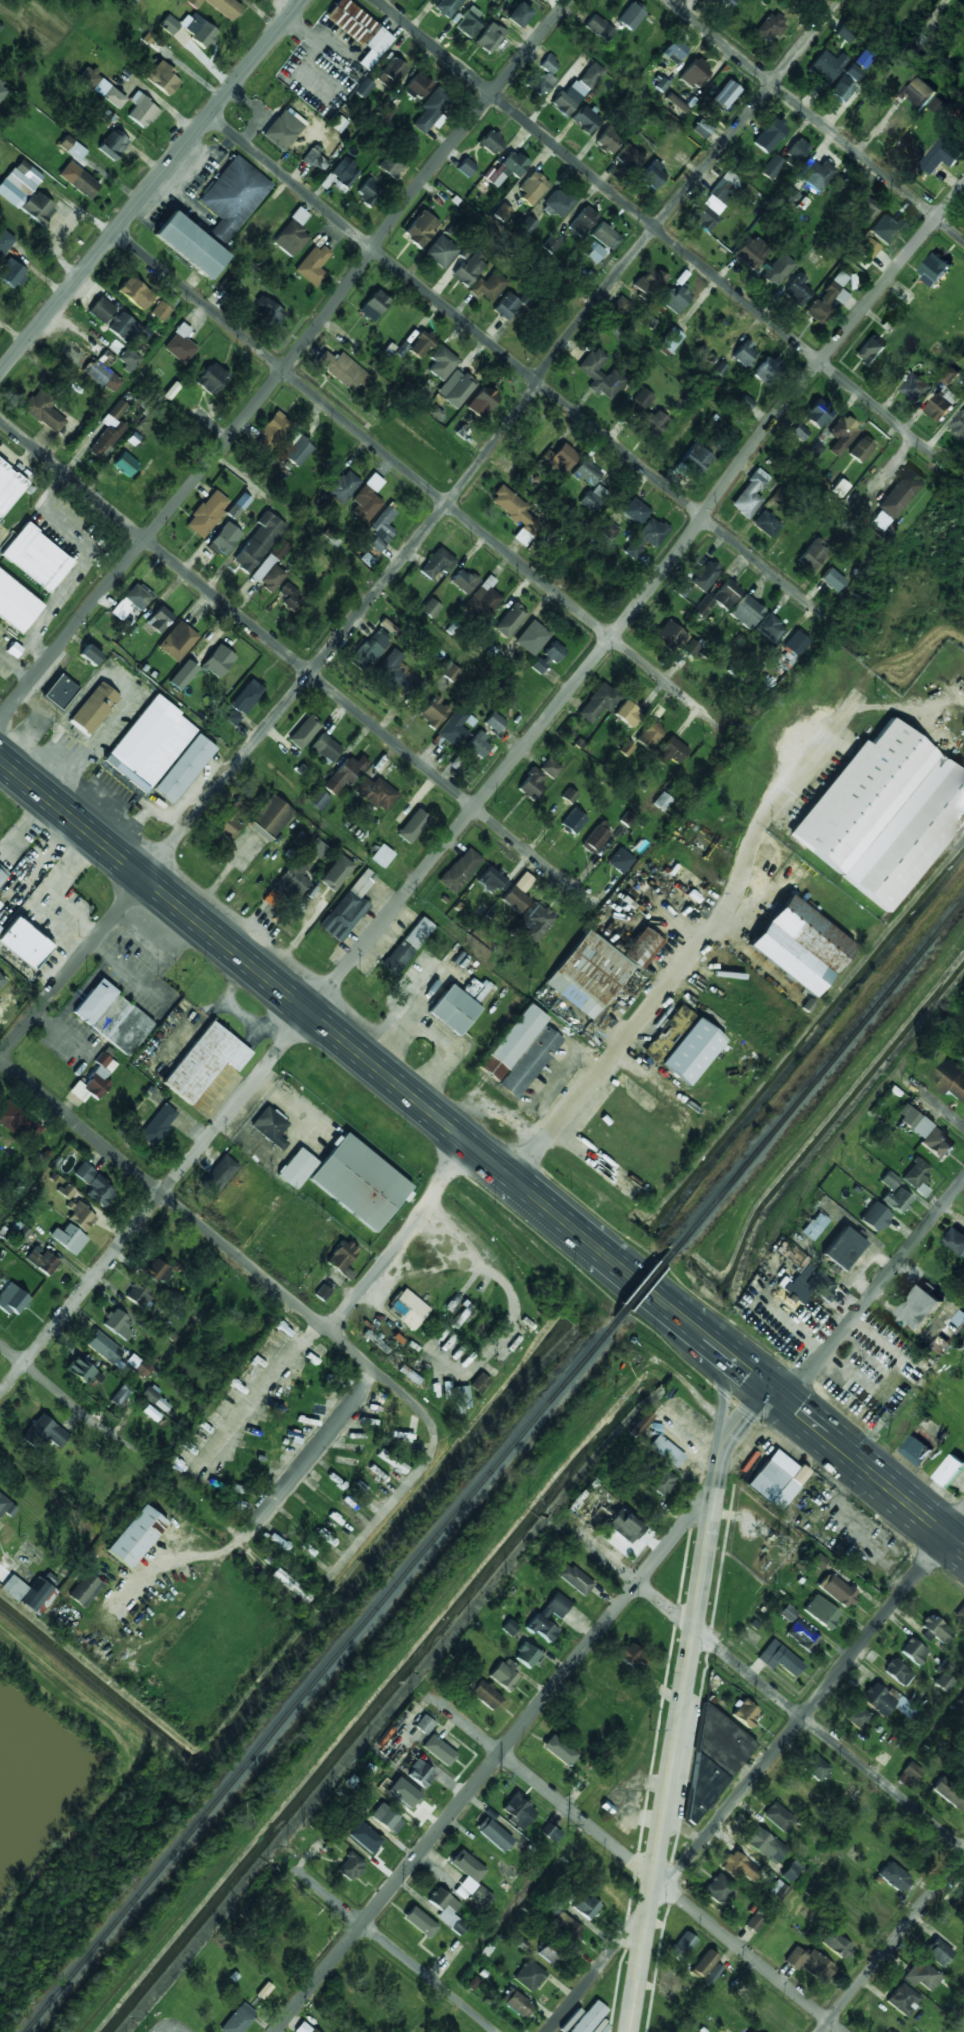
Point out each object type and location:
building: (535, 1)
building: (727, 3)
building: (225, 7)
building: (447, 7)
building: (519, 15)
building: (630, 16)
building: (469, 23)
building: (0, 26)
building: (770, 27)
building: (191, 28)
building: (598, 28)
building: (360, 30)
building: (845, 32)
building: (148, 37)
building: (489, 37)
building: (674, 51)
building: (864, 58)
building: (549, 65)
building: (825, 67)
building: (391, 72)
building: (695, 74)
building: (591, 75)
building: (161, 77)
building: (846, 82)
building: (539, 83)
building: (660, 83)
building: (418, 86)
building: (102, 88)
building: (364, 88)
building: (3, 89)
building: (918, 92)
building: (725, 95)
building: (568, 98)
building: (675, 103)
building: (938, 104)
building: (142, 110)
building: (430, 111)
building: (386, 112)
building: (585, 119)
road: (816, 120)
building: (701, 129)
building: (282, 130)
building: (769, 135)
building: (609, 140)
building: (490, 142)
building: (113, 145)
building: (76, 151)
building: (796, 153)
building: (942, 155)
building: (630, 157)
building: (315, 158)
building: (391, 165)
building: (466, 167)
building: (772, 167)
building: (507, 168)
building: (650, 173)
building: (817, 175)
building: (78, 180)
building: (19, 183)
road: (151, 186)
building: (532, 187)
building: (368, 192)
building: (788, 196)
building: (233, 198)
building: (715, 200)
building: (558, 203)
building: (38, 207)
building: (866, 209)
building: (503, 213)
building: (583, 221)
building: (528, 226)
building: (886, 227)
building: (420, 229)
road: (661, 232)
building: (293, 234)
building: (605, 236)
building: (5, 241)
building: (191, 245)
building: (867, 249)
building: (441, 252)
building: (750, 252)
building: (314, 265)
building: (934, 269)
building: (778, 270)
building: (469, 271)
building: (12, 274)
building: (648, 282)
building: (489, 286)
building: (797, 290)
building: (136, 293)
building: (675, 299)
building: (374, 305)
building: (506, 306)
building: (620, 306)
building: (101, 310)
building: (161, 311)
building: (268, 311)
building: (123, 327)
building: (670, 339)
building: (180, 345)
building: (421, 345)
building: (614, 346)
building: (95, 348)
building: (401, 349)
building: (870, 351)
building: (744, 354)
building: (106, 359)
building: (128, 360)
road: (287, 360)
building: (442, 363)
road: (520, 367)
building: (343, 370)
building: (768, 371)
building: (600, 375)
building: (950, 375)
building: (101, 376)
building: (212, 379)
building: (456, 388)
building: (916, 388)
building: (482, 402)
building: (640, 402)
building: (745, 403)
building: (942, 403)
building: (44, 411)
building: (817, 414)
building: (654, 422)
building: (958, 425)
building: (110, 430)
building: (799, 432)
building: (841, 435)
building: (815, 449)
building: (861, 449)
building: (297, 450)
building: (696, 458)
building: (126, 464)
building: (586, 473)
road: (419, 482)
building: (341, 486)
building: (8, 487)
building: (839, 488)
building: (900, 492)
building: (749, 495)
building: (777, 496)
building: (592, 498)
building: (367, 499)
building: (635, 511)
building: (207, 514)
building: (516, 514)
building: (766, 524)
building: (608, 529)
road: (424, 531)
building: (378, 533)
building: (646, 537)
building: (226, 538)
building: (259, 542)
building: (813, 555)
building: (36, 557)
building: (437, 563)
building: (271, 567)
building: (706, 576)
building: (832, 580)
building: (463, 581)
building: (682, 587)
building: (486, 596)
building: (290, 597)
building: (719, 598)
building: (132, 602)
building: (17, 604)
building: (430, 608)
building: (746, 612)
building: (159, 620)
building: (509, 620)
building: (770, 628)
building: (668, 634)
building: (531, 638)
building: (178, 641)
building: (369, 650)
building: (791, 650)
building: (90, 655)
building: (548, 657)
building: (218, 661)
road: (298, 663)
building: (187, 670)
building: (397, 673)
building: (451, 673)
building: (60, 692)
building: (244, 701)
building: (598, 703)
building: (94, 708)
building: (433, 712)
building: (628, 714)
building: (494, 722)
building: (457, 727)
building: (304, 732)
building: (650, 735)
building: (149, 744)
building: (325, 748)
building: (671, 752)
building: (183, 768)
building: (550, 768)
building: (346, 773)
building: (532, 783)
road: (486, 792)
building: (376, 793)
building: (569, 795)
building: (317, 799)
building: (883, 814)
building: (272, 817)
building: (230, 821)
building: (573, 821)
building: (412, 826)
building: (597, 836)
building: (315, 847)
building: (382, 856)
building: (620, 860)
building: (460, 870)
building: (2, 873)
building: (336, 873)
building: (490, 879)
building: (292, 880)
building: (515, 899)
building: (0, 904)
building: (348, 909)
building: (536, 922)
building: (0, 927)
building: (418, 933)
road: (669, 933)
building: (795, 942)
building: (24, 943)
building: (641, 948)
building: (398, 957)
road: (255, 968)
building: (588, 974)
building: (453, 1010)
building: (113, 1017)
building: (668, 1034)
building: (684, 1051)
building: (520, 1052)
building: (204, 1062)
railway: (817, 1071)
building: (953, 1079)
building: (94, 1080)
road: (944, 1110)
building: (10, 1117)
building: (158, 1124)
building: (270, 1127)
building: (607, 1134)
building: (924, 1134)
building: (296, 1168)
building: (219, 1172)
building: (915, 1178)
building: (888, 1180)
building: (359, 1182)
building: (95, 1185)
building: (896, 1200)
road: (560, 1218)
building: (875, 1218)
building: (815, 1225)
road: (209, 1234)
road: (396, 1236)
building: (69, 1239)
building: (956, 1241)
building: (843, 1249)
building: (794, 1256)
building: (342, 1259)
building: (42, 1261)
building: (158, 1271)
road: (640, 1283)
railway: (641, 1285)
building: (810, 1285)
road: (874, 1291)
building: (322, 1293)
building: (139, 1295)
building: (12, 1300)
building: (451, 1303)
building: (920, 1307)
building: (407, 1309)
road: (684, 1319)
building: (960, 1319)
building: (118, 1324)
road: (713, 1343)
building: (105, 1349)
road: (11, 1355)
building: (138, 1365)
traffic signals: (812, 1370)
building: (83, 1371)
road: (748, 1372)
traffic signals: (748, 1372)
building: (338, 1379)
building: (478, 1383)
building: (446, 1390)
building: (121, 1396)
road: (777, 1396)
building: (155, 1398)
building: (461, 1399)
road: (255, 1401)
road: (721, 1405)
road: (77, 1408)
traffic signals: (798, 1412)
building: (151, 1413)
traffic signals: (742, 1419)
building: (639, 1425)
road: (815, 1426)
building: (44, 1433)
building: (916, 1450)
road: (314, 1452)
building: (663, 1453)
building: (392, 1462)
building: (949, 1470)
building: (771, 1477)
building: (661, 1482)
road: (397, 1499)
road: (903, 1499)
building: (813, 1506)
building: (7, 1507)
building: (599, 1515)
building: (623, 1526)
building: (136, 1537)
building: (574, 1579)
building: (291, 1585)
building: (85, 1590)
building: (31, 1592)
building: (839, 1592)
building: (821, 1613)
building: (960, 1613)
building: (541, 1615)
building: (509, 1628)
building: (936, 1630)
building: (803, 1637)
building: (913, 1652)
building: (526, 1655)
building: (632, 1657)
building: (779, 1659)
building: (897, 1672)
railway: (315, 1675)
building: (503, 1675)
building: (944, 1675)
road: (769, 1690)
building: (485, 1696)
building: (886, 1701)
road: (683, 1703)
building: (745, 1714)
building: (858, 1718)
building: (422, 1725)
building: (439, 1748)
building: (558, 1754)
building: (716, 1756)
road: (496, 1757)
building: (816, 1769)
building: (419, 1773)
road: (754, 1774)
building: (910, 1775)
building: (962, 1777)
building: (963, 1780)
building: (401, 1794)
building: (949, 1794)
building: (517, 1812)
building: (778, 1817)
building: (386, 1818)
building: (691, 1818)
building: (550, 1833)
building: (494, 1834)
building: (368, 1841)
building: (764, 1848)
building: (486, 1863)
building: (350, 1867)
building: (738, 1867)
road: (643, 1868)
building: (791, 1871)
building: (466, 1872)
building: (893, 1877)
building: (718, 1889)
building: (777, 1889)
building: (480, 1896)
building: (873, 1898)
building: (963, 1904)
building: (585, 1906)
building: (446, 1910)
building: (754, 1923)
building: (418, 1925)
building: (565, 1927)
road: (892, 1942)
building: (835, 1944)
building: (681, 1946)
road: (395, 1949)
building: (451, 1952)
building: (549, 1952)
building: (938, 1952)
building: (702, 1964)
building: (809, 1964)
building: (712, 1974)
building: (920, 1975)
building: (529, 1976)
building: (264, 1990)
building: (902, 1999)
building: (516, 2004)
building: (589, 2018)
building: (238, 2019)
road: (167, 2026)
building: (303, 2028)
building: (750, 2031)

